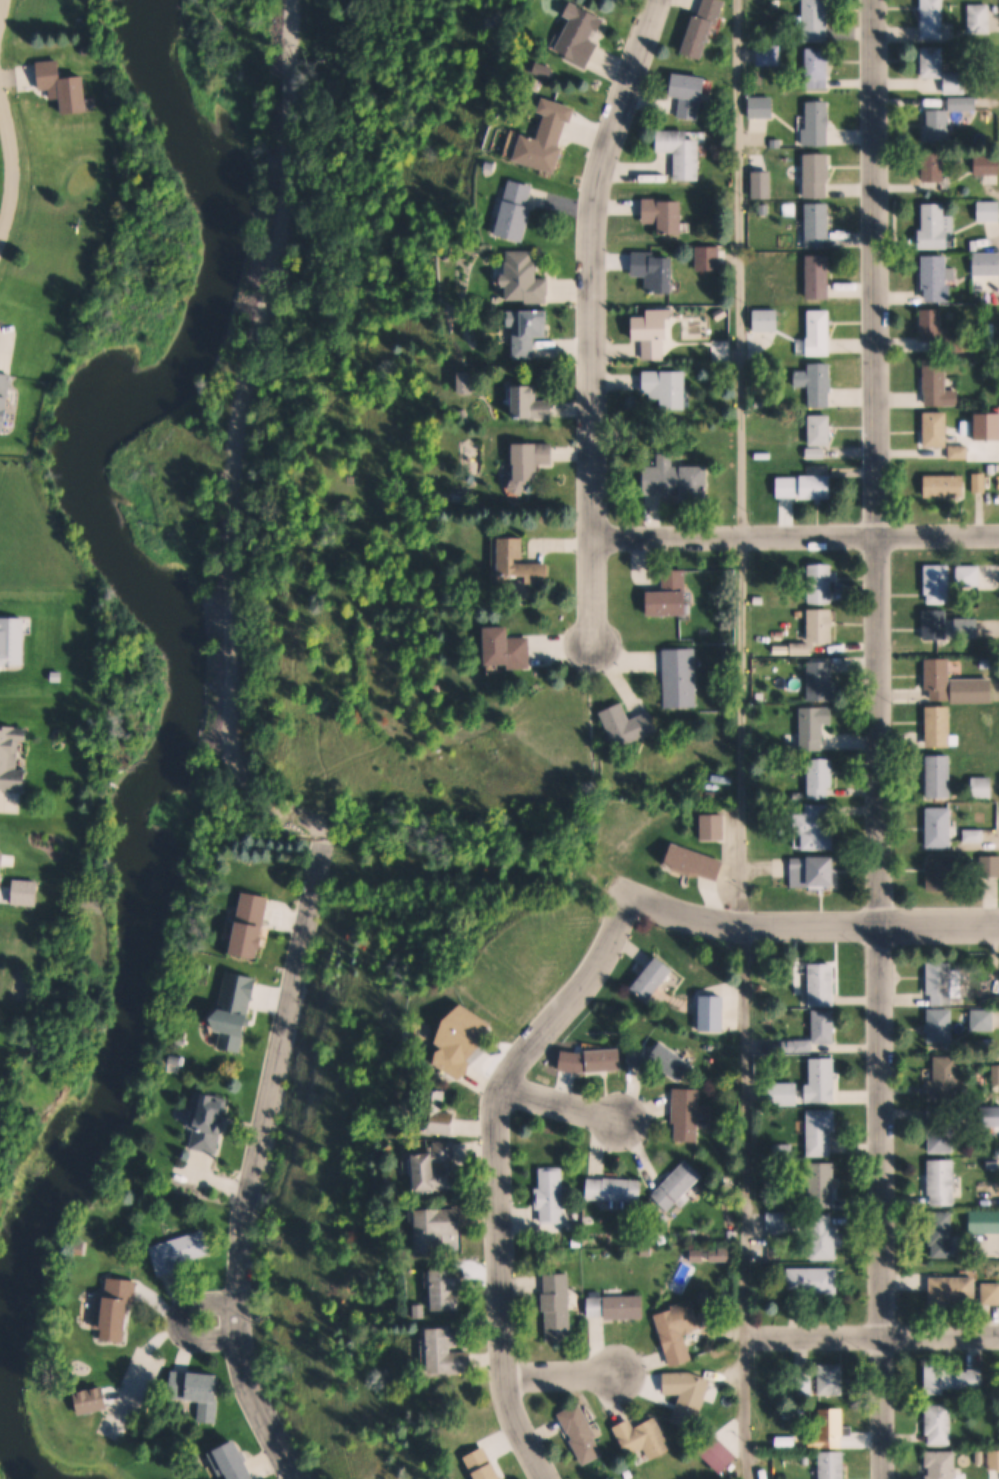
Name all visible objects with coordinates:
building: (777, 3)
building: (936, 18)
building: (981, 18)
building: (818, 21)
building: (705, 27)
building: (581, 36)
building: (770, 54)
building: (935, 62)
building: (820, 68)
building: (544, 70)
building: (957, 83)
building: (691, 95)
building: (964, 103)
building: (763, 108)
building: (819, 123)
building: (939, 126)
building: (546, 144)
building: (683, 154)
building: (987, 165)
building: (491, 166)
road: (9, 167)
building: (935, 167)
building: (819, 175)
building: (764, 210)
building: (516, 211)
building: (989, 213)
building: (667, 215)
building: (819, 226)
building: (936, 228)
building: (443, 255)
building: (710, 259)
building: (986, 265)
building: (657, 273)
building: (819, 278)
building: (527, 279)
building: (939, 279)
road: (592, 317)
building: (767, 320)
building: (934, 327)
building: (531, 331)
building: (655, 331)
building: (821, 334)
building: (957, 345)
building: (466, 383)
building: (512, 384)
building: (818, 385)
building: (939, 385)
building: (670, 388)
building: (530, 406)
building: (937, 429)
building: (822, 430)
building: (995, 431)
building: (996, 439)
road: (219, 442)
building: (960, 453)
building: (817, 454)
building: (533, 464)
building: (992, 469)
building: (677, 479)
building: (979, 483)
building: (946, 487)
building: (765, 488)
building: (788, 488)
building: (817, 488)
road: (796, 535)
building: (522, 563)
building: (969, 578)
building: (822, 585)
building: (939, 585)
building: (671, 597)
building: (758, 601)
building: (799, 614)
building: (936, 625)
building: (822, 626)
building: (968, 629)
building: (508, 649)
building: (802, 650)
building: (988, 665)
building: (682, 679)
building: (939, 679)
building: (822, 682)
building: (759, 696)
river: (175, 718)
building: (630, 726)
building: (816, 727)
building: (941, 728)
building: (81, 739)
road: (744, 739)
road: (879, 739)
road: (590, 741)
building: (12, 757)
building: (940, 775)
building: (822, 778)
building: (983, 786)
building: (710, 795)
building: (941, 826)
building: (713, 827)
building: (818, 827)
building: (975, 835)
building: (693, 861)
building: (992, 865)
building: (823, 870)
building: (797, 872)
building: (942, 874)
building: (252, 925)
road: (812, 925)
building: (653, 978)
building: (942, 982)
building: (824, 984)
building: (987, 1001)
building: (995, 1001)
building: (232, 1010)
building: (714, 1012)
building: (984, 1019)
building: (942, 1024)
building: (825, 1025)
building: (467, 1039)
building: (798, 1045)
building: (638, 1056)
building: (596, 1059)
building: (674, 1061)
building: (997, 1074)
building: (946, 1078)
building: (823, 1079)
building: (784, 1093)
road: (563, 1099)
building: (440, 1113)
building: (690, 1113)
building: (203, 1121)
building: (942, 1129)
building: (821, 1131)
building: (447, 1151)
building: (784, 1151)
building: (995, 1163)
road: (252, 1165)
building: (435, 1174)
road: (500, 1174)
building: (942, 1181)
building: (822, 1183)
building: (679, 1185)
building: (617, 1190)
building: (553, 1195)
building: (779, 1220)
building: (984, 1222)
building: (436, 1229)
building: (943, 1235)
building: (824, 1237)
building: (578, 1242)
building: (176, 1252)
building: (813, 1280)
building: (448, 1288)
building: (954, 1288)
building: (990, 1293)
building: (618, 1306)
building: (559, 1307)
building: (115, 1308)
building: (417, 1310)
road: (181, 1317)
building: (682, 1328)
road: (873, 1333)
building: (447, 1350)
road: (560, 1374)
building: (832, 1379)
building: (953, 1380)
building: (802, 1383)
building: (195, 1392)
building: (688, 1395)
building: (91, 1400)
building: (938, 1424)
building: (830, 1430)
building: (583, 1433)
building: (645, 1438)
building: (786, 1442)
building: (720, 1454)
building: (994, 1459)
building: (806, 1460)
building: (229, 1461)
building: (483, 1464)
building: (941, 1464)
building: (833, 1465)
building: (630, 1474)

